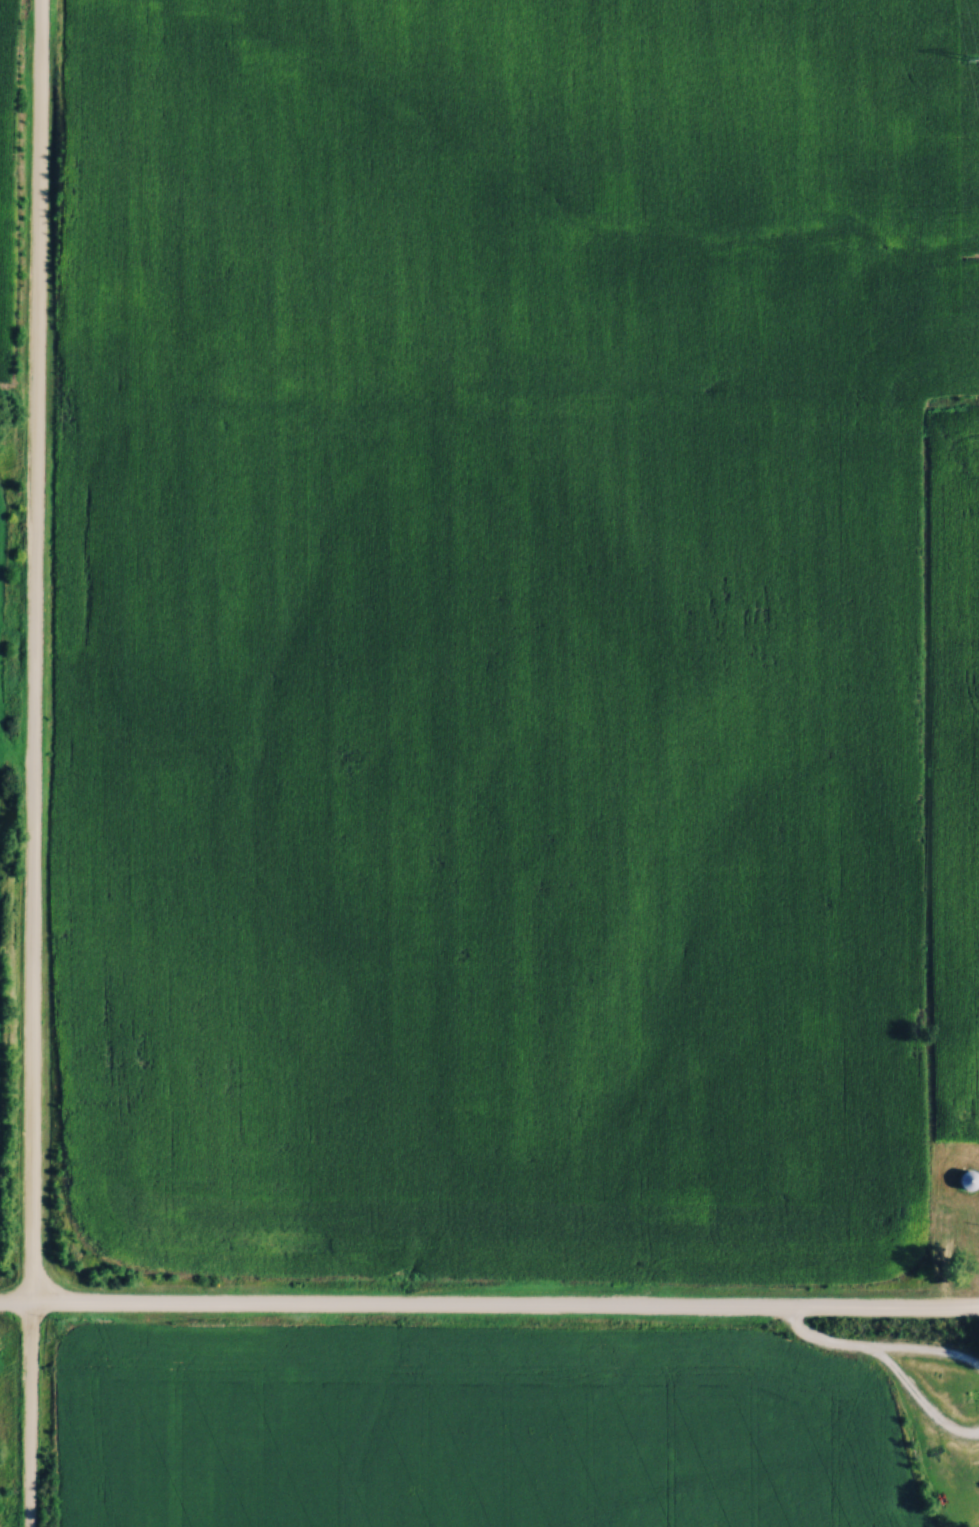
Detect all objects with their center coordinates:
power tower: (976, 56)
road: (35, 763)
building: (968, 1178)
road: (489, 1301)
road: (817, 1340)
road: (878, 1360)

